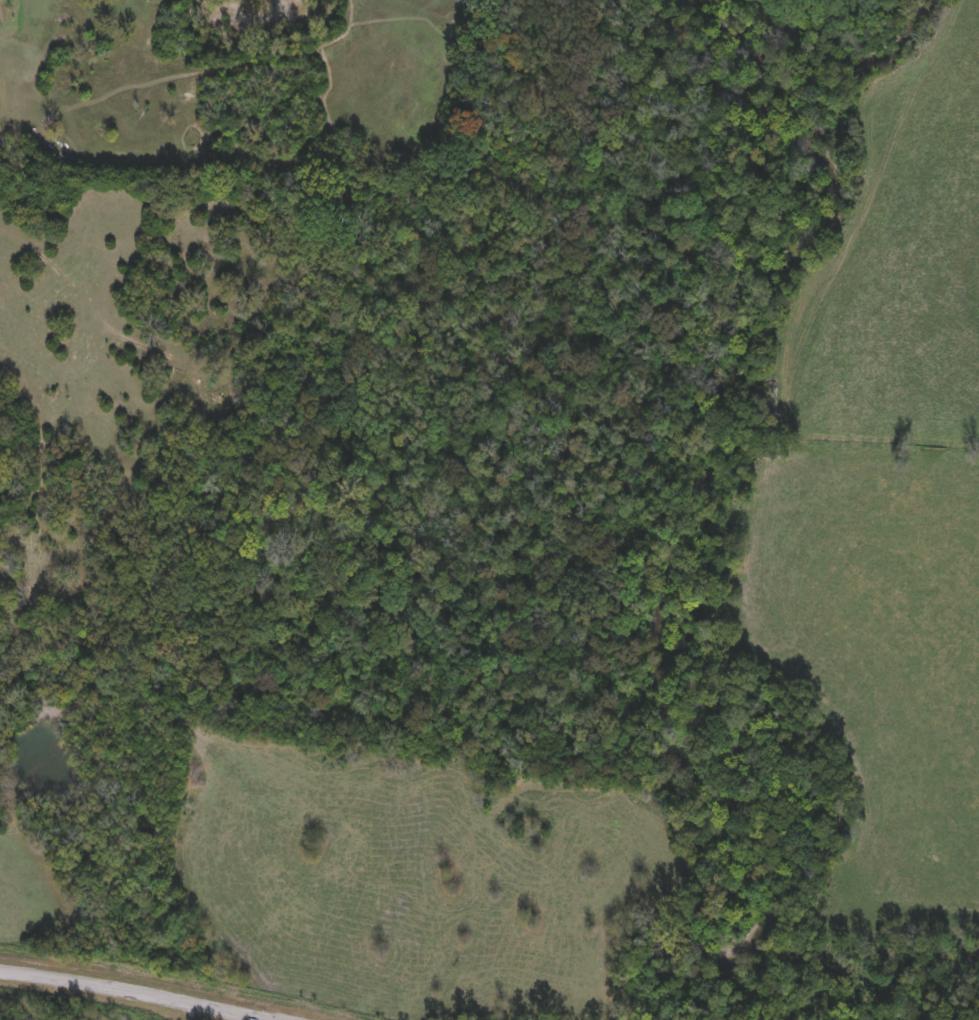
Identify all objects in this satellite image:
road: (130, 994)

